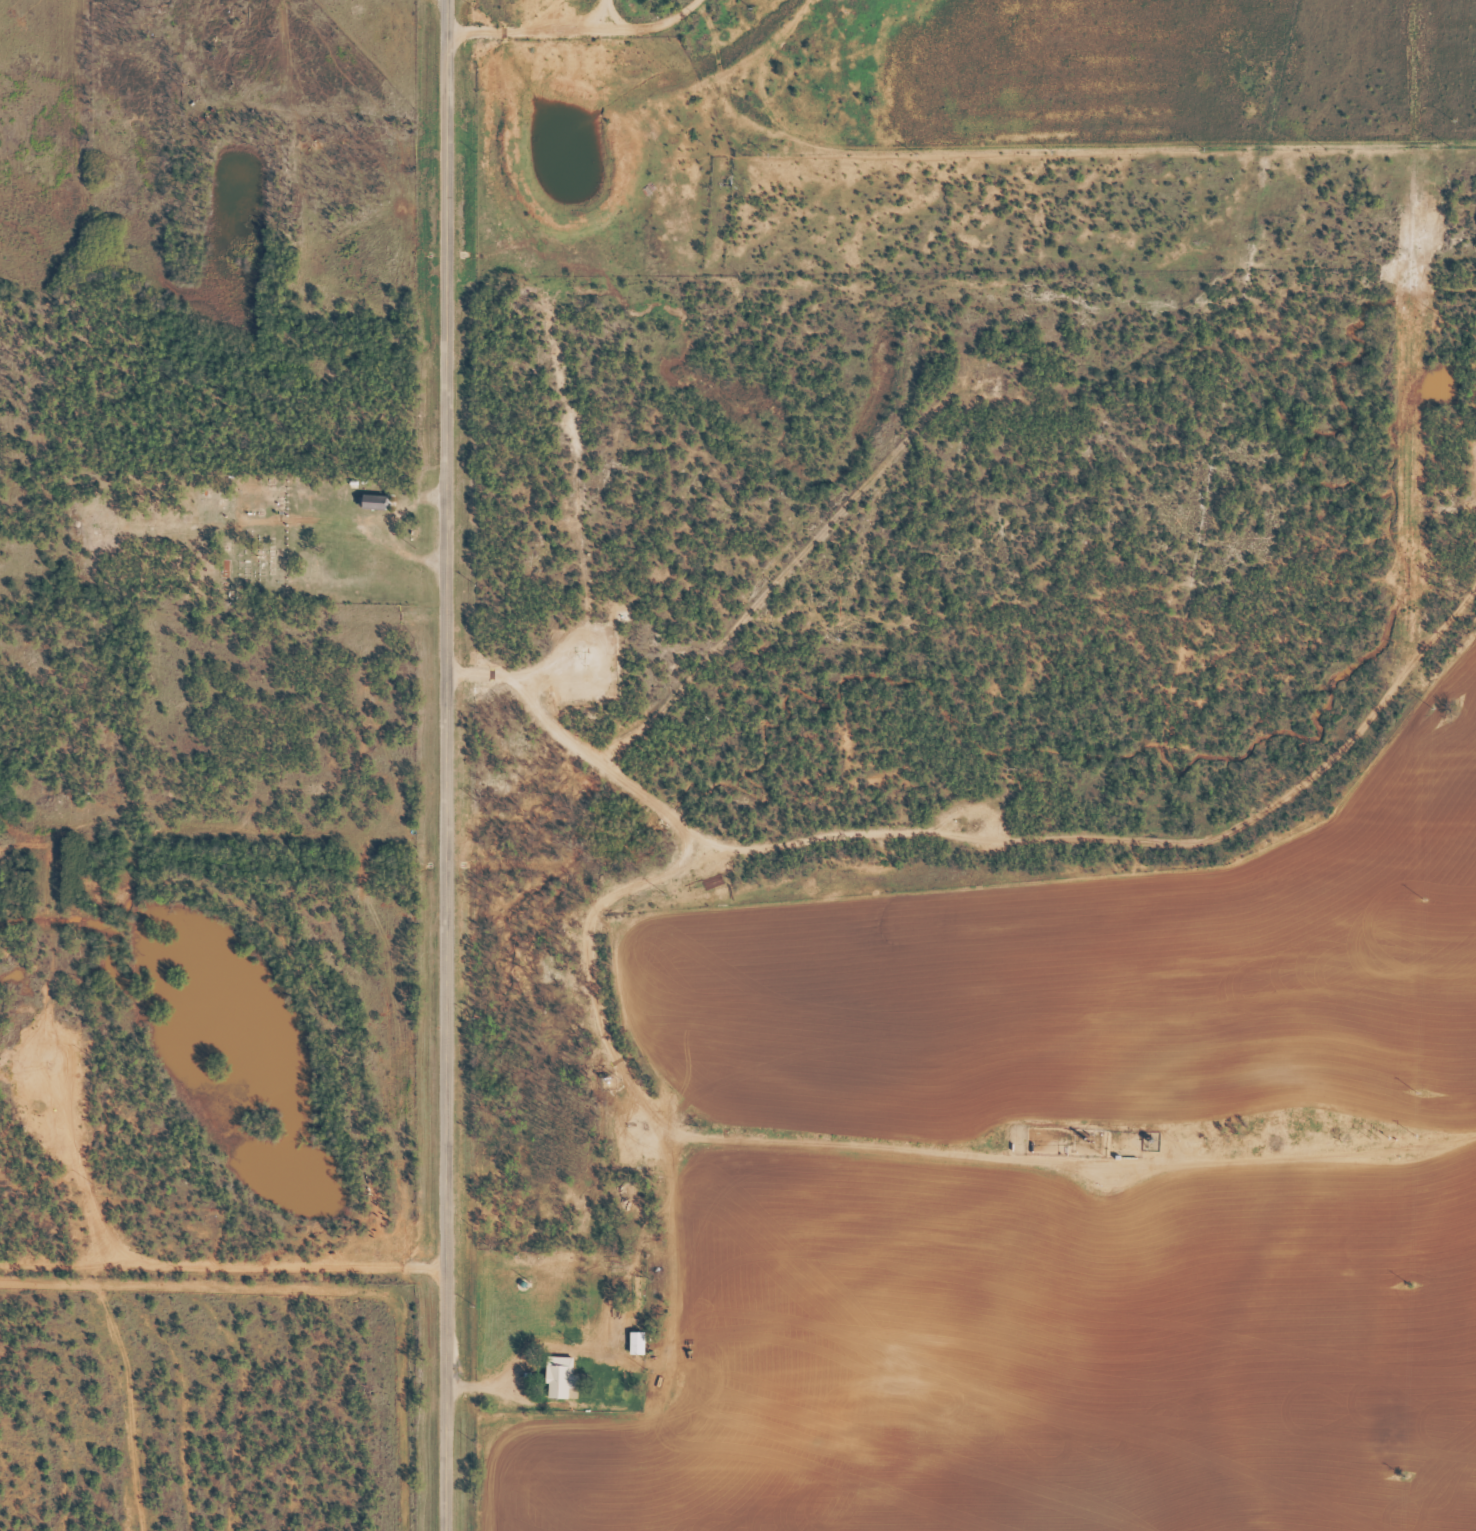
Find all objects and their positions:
road: (687, 13)
road: (933, 168)
building: (371, 501)
park: (233, 537)
road: (445, 765)
road: (608, 975)
road: (222, 1274)
road: (626, 1325)
building: (635, 1343)
building: (560, 1379)

